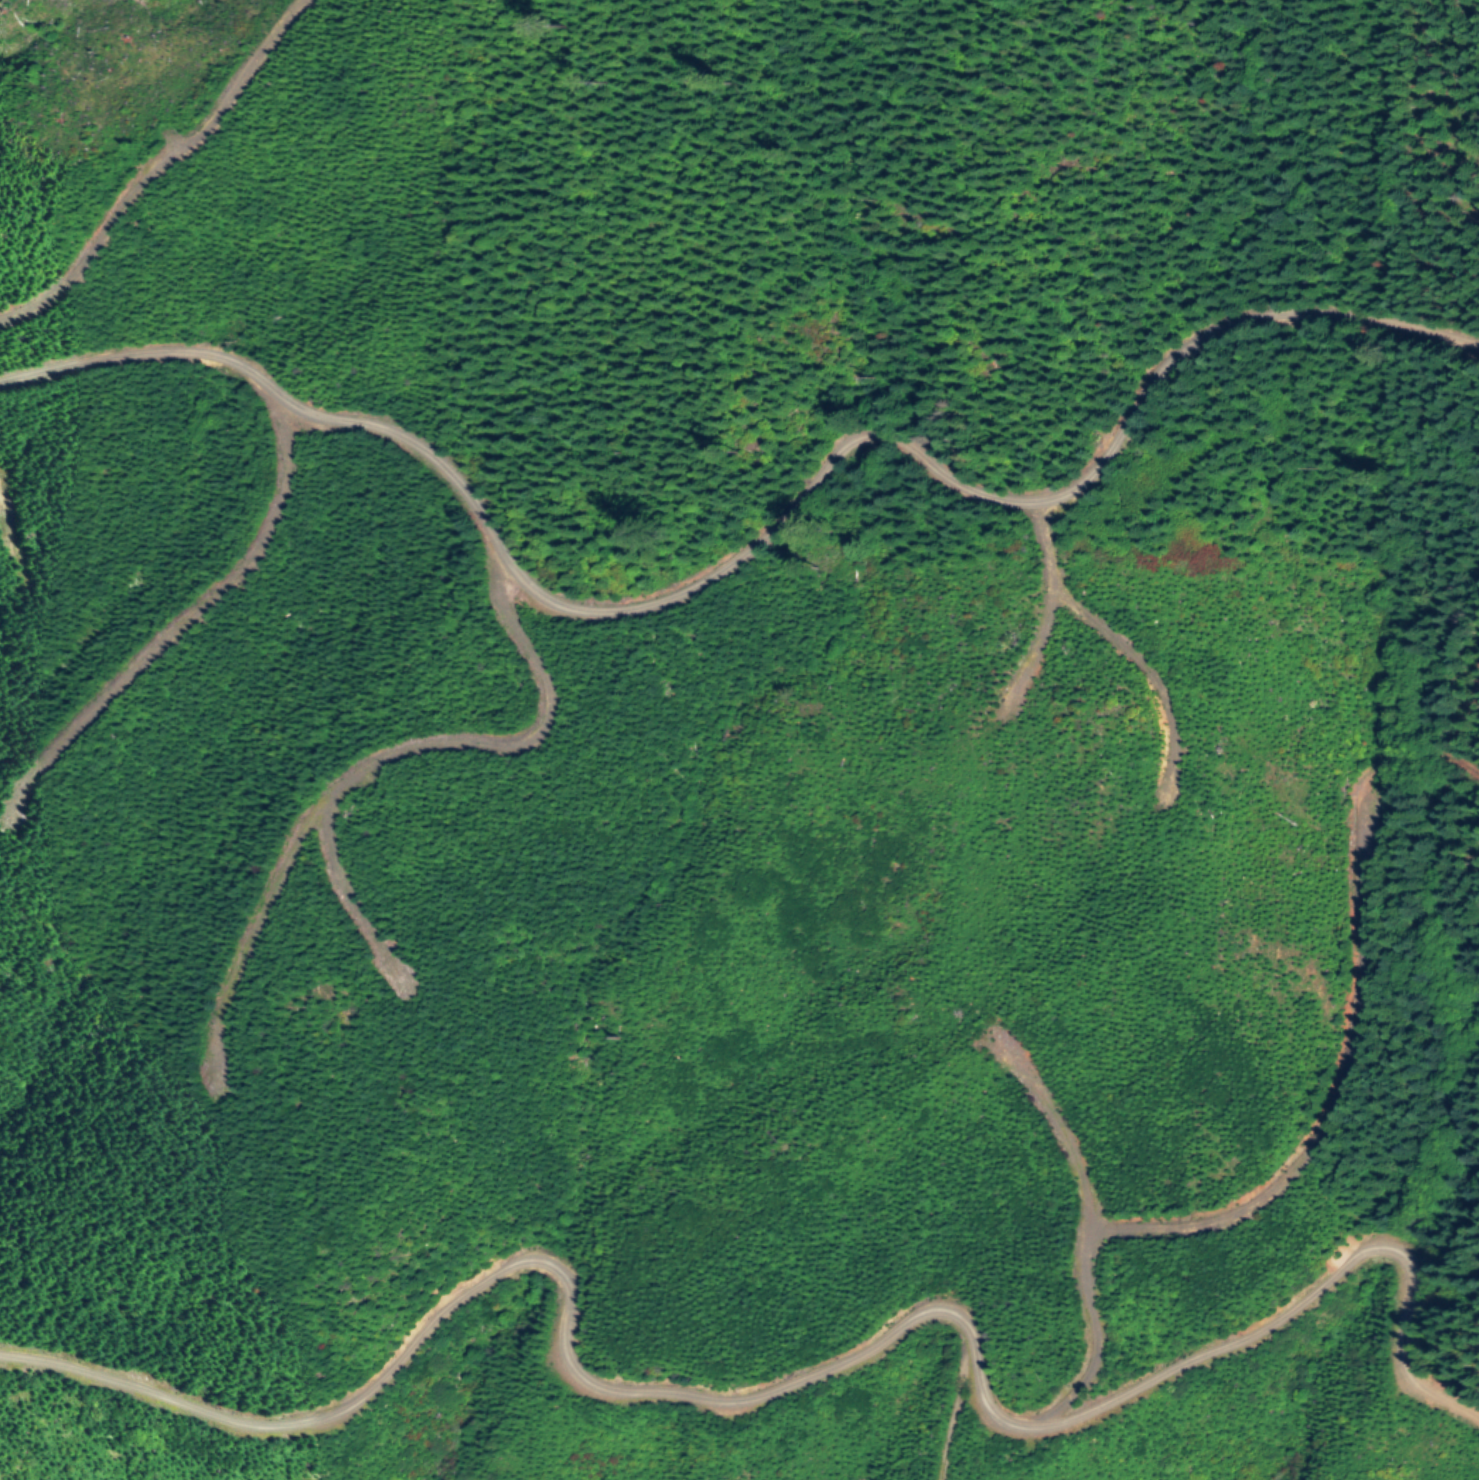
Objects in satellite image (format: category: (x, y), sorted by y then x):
road: (739, 549)
road: (1245, 1211)
crop: (193, 1227)
crop: (546, 1276)
crop: (623, 1360)
road: (788, 1379)
crop: (1155, 1404)

